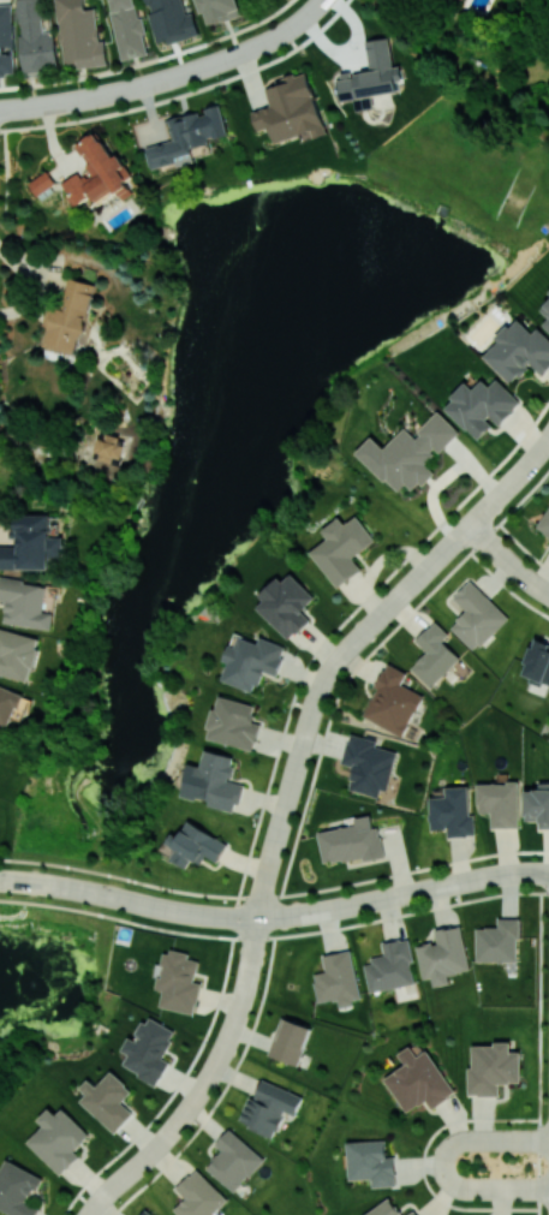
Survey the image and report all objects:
building: (458, 0)
building: (219, 10)
road: (304, 16)
building: (171, 20)
building: (129, 28)
building: (80, 34)
building: (35, 37)
building: (6, 40)
road: (154, 62)
road: (196, 69)
building: (371, 76)
road: (50, 103)
building: (291, 108)
building: (187, 136)
building: (99, 172)
dam: (405, 172)
building: (42, 183)
park: (328, 281)
road: (35, 286)
building: (545, 314)
building: (70, 317)
building: (519, 351)
building: (482, 406)
road: (545, 440)
building: (111, 447)
building: (408, 453)
road: (529, 463)
road: (493, 502)
building: (544, 524)
building: (30, 543)
building: (342, 549)
road: (508, 560)
road: (418, 578)
building: (25, 603)
building: (286, 604)
building: (476, 615)
building: (17, 654)
building: (434, 655)
building: (251, 661)
building: (537, 663)
building: (392, 702)
building: (7, 707)
building: (233, 722)
park: (108, 746)
building: (368, 764)
road: (297, 768)
building: (214, 781)
building: (500, 803)
building: (538, 805)
building: (452, 812)
building: (351, 841)
building: (196, 846)
road: (4, 880)
road: (274, 895)
road: (279, 916)
road: (274, 936)
building: (499, 941)
building: (443, 955)
building: (390, 966)
building: (338, 978)
building: (179, 982)
building: (290, 1041)
building: (148, 1049)
road: (538, 1053)
building: (491, 1067)
building: (418, 1080)
road: (205, 1083)
building: (107, 1100)
building: (269, 1107)
building: (58, 1138)
building: (233, 1160)
building: (371, 1162)
road: (423, 1163)
road: (442, 1163)
building: (18, 1190)
building: (198, 1196)
building: (384, 1209)
building: (145, 1213)
building: (412, 1213)

